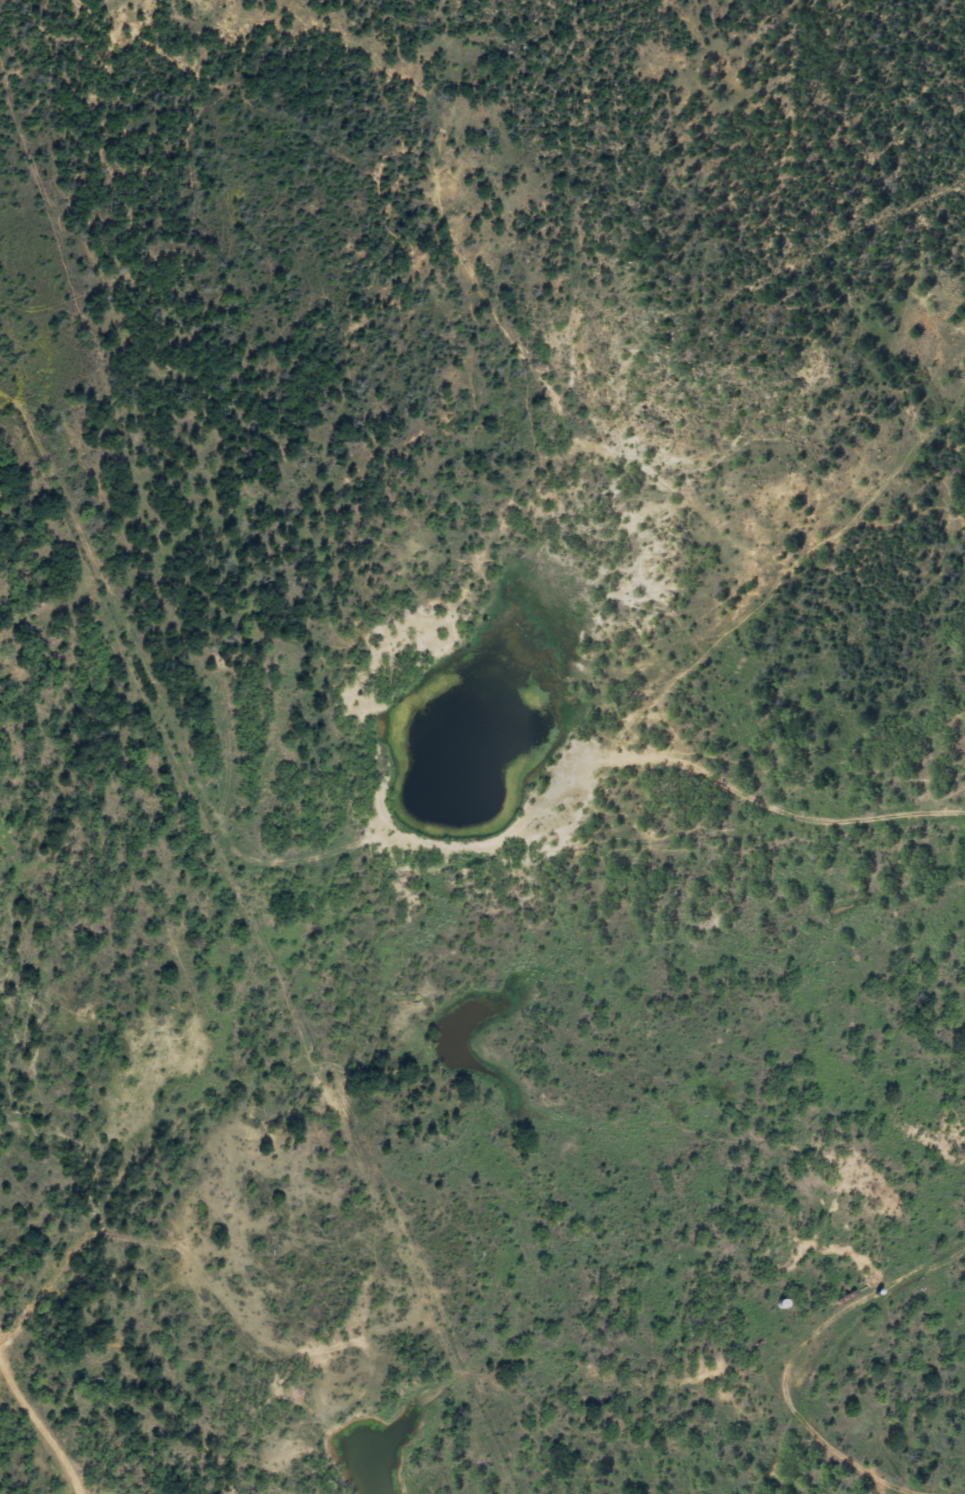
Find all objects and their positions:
road: (289, 616)

